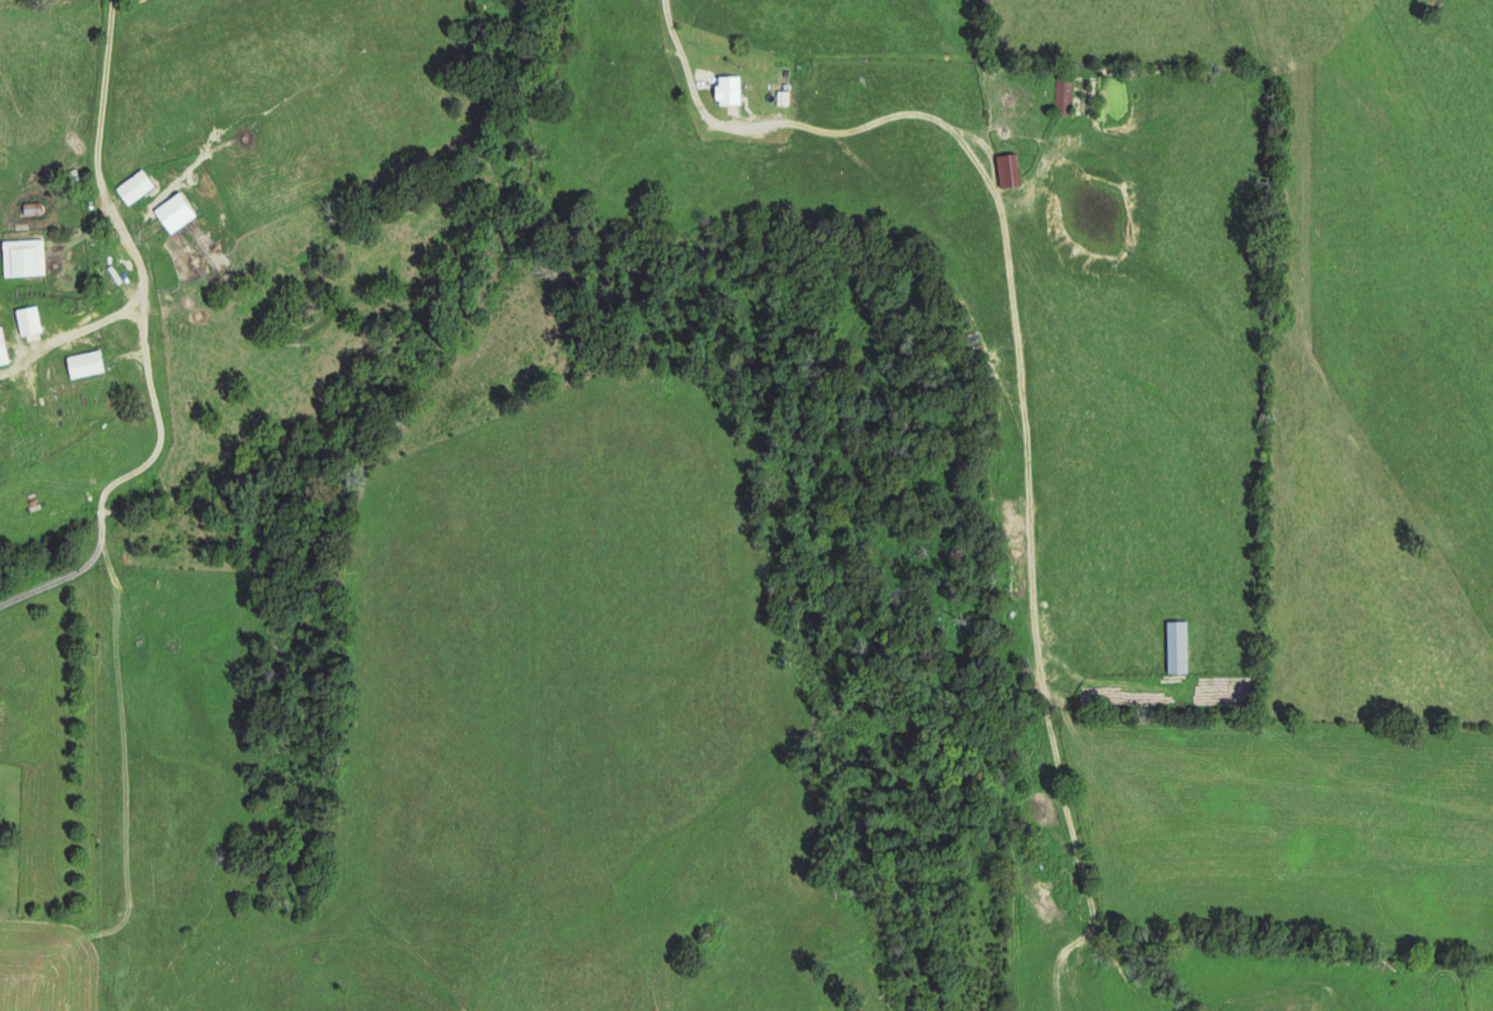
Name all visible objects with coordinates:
building: (734, 89)
building: (1014, 169)
building: (139, 186)
building: (35, 208)
building: (27, 257)
road: (1013, 329)
road: (147, 336)
building: (91, 363)
building: (1173, 646)

